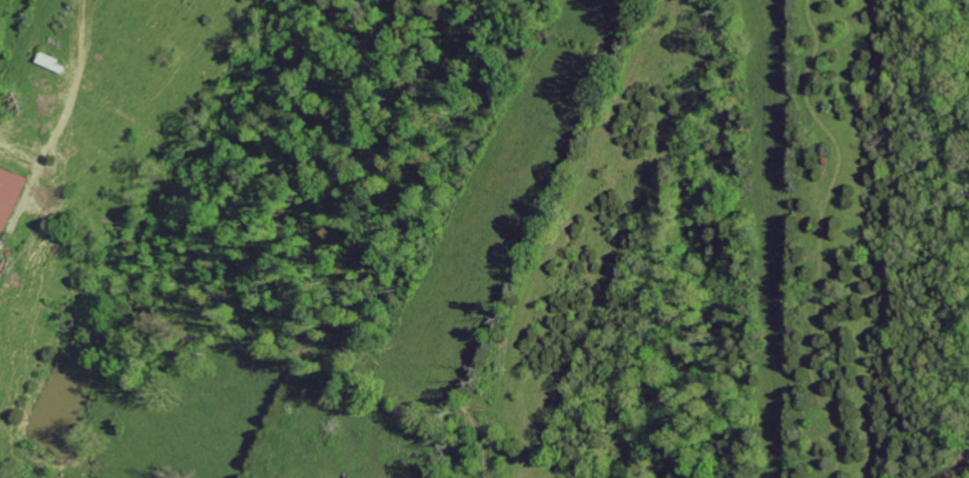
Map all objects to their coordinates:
building: (9, 196)

